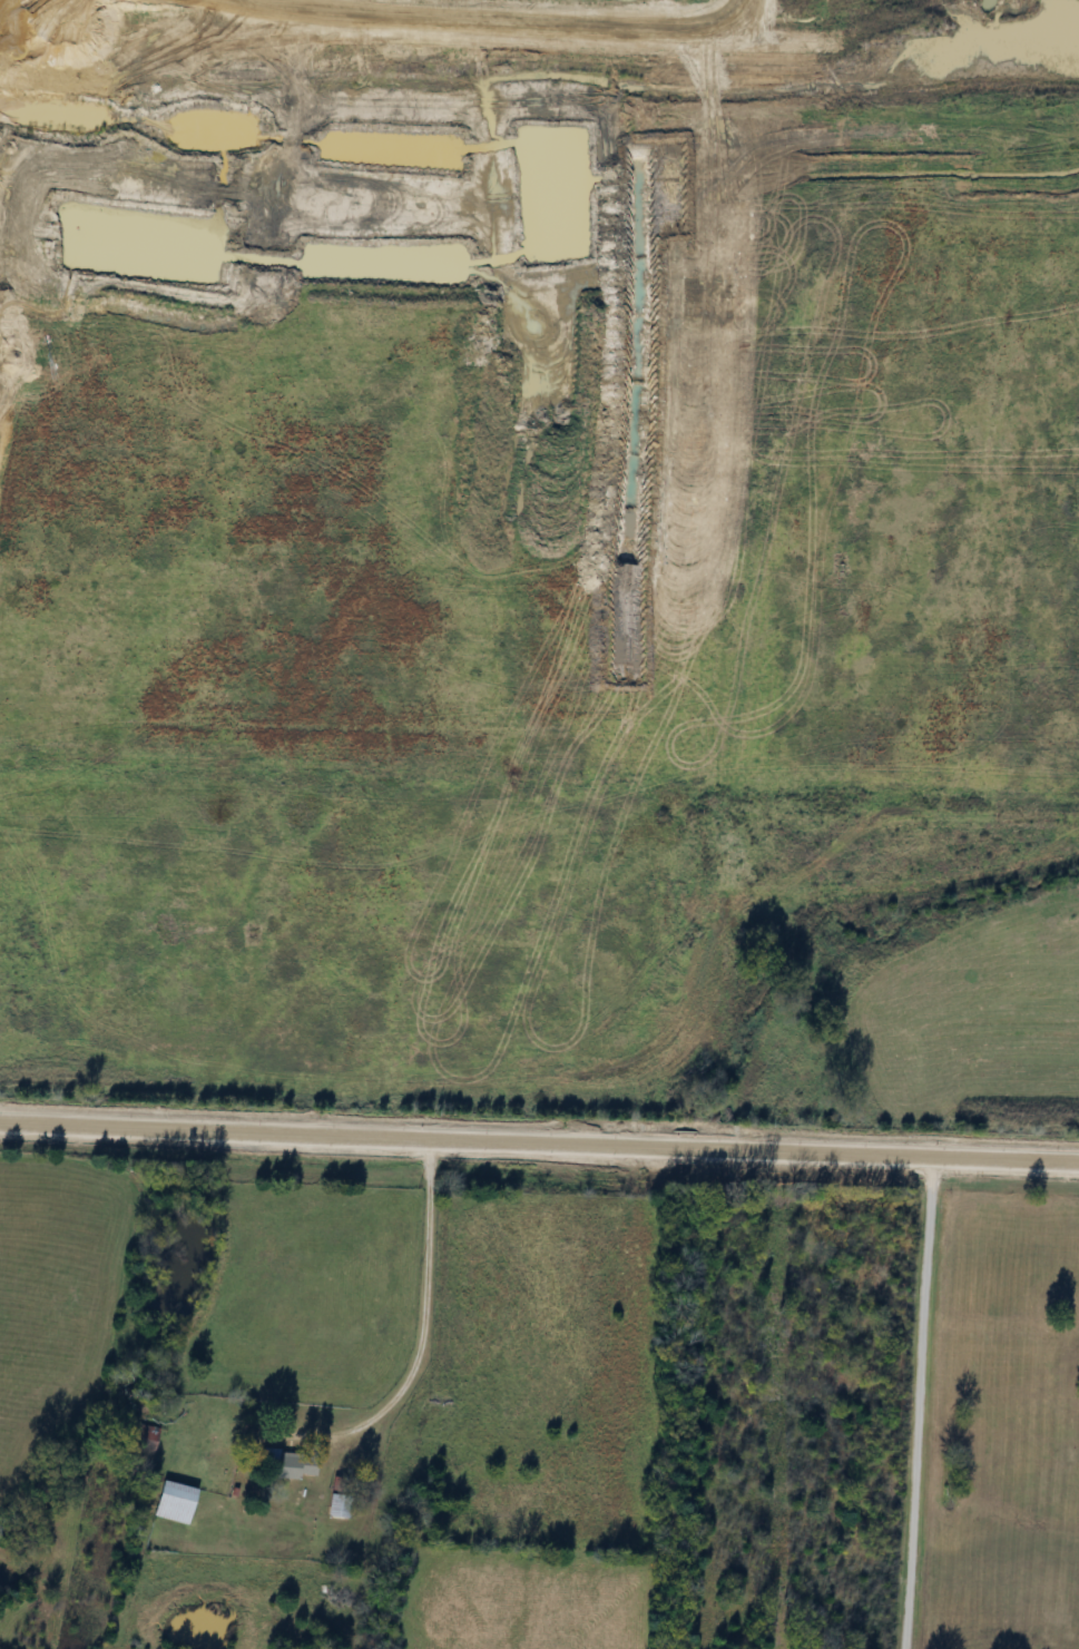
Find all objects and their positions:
road: (539, 1140)
road: (424, 1324)
road: (921, 1402)
building: (283, 1466)
building: (170, 1502)
building: (334, 1508)

